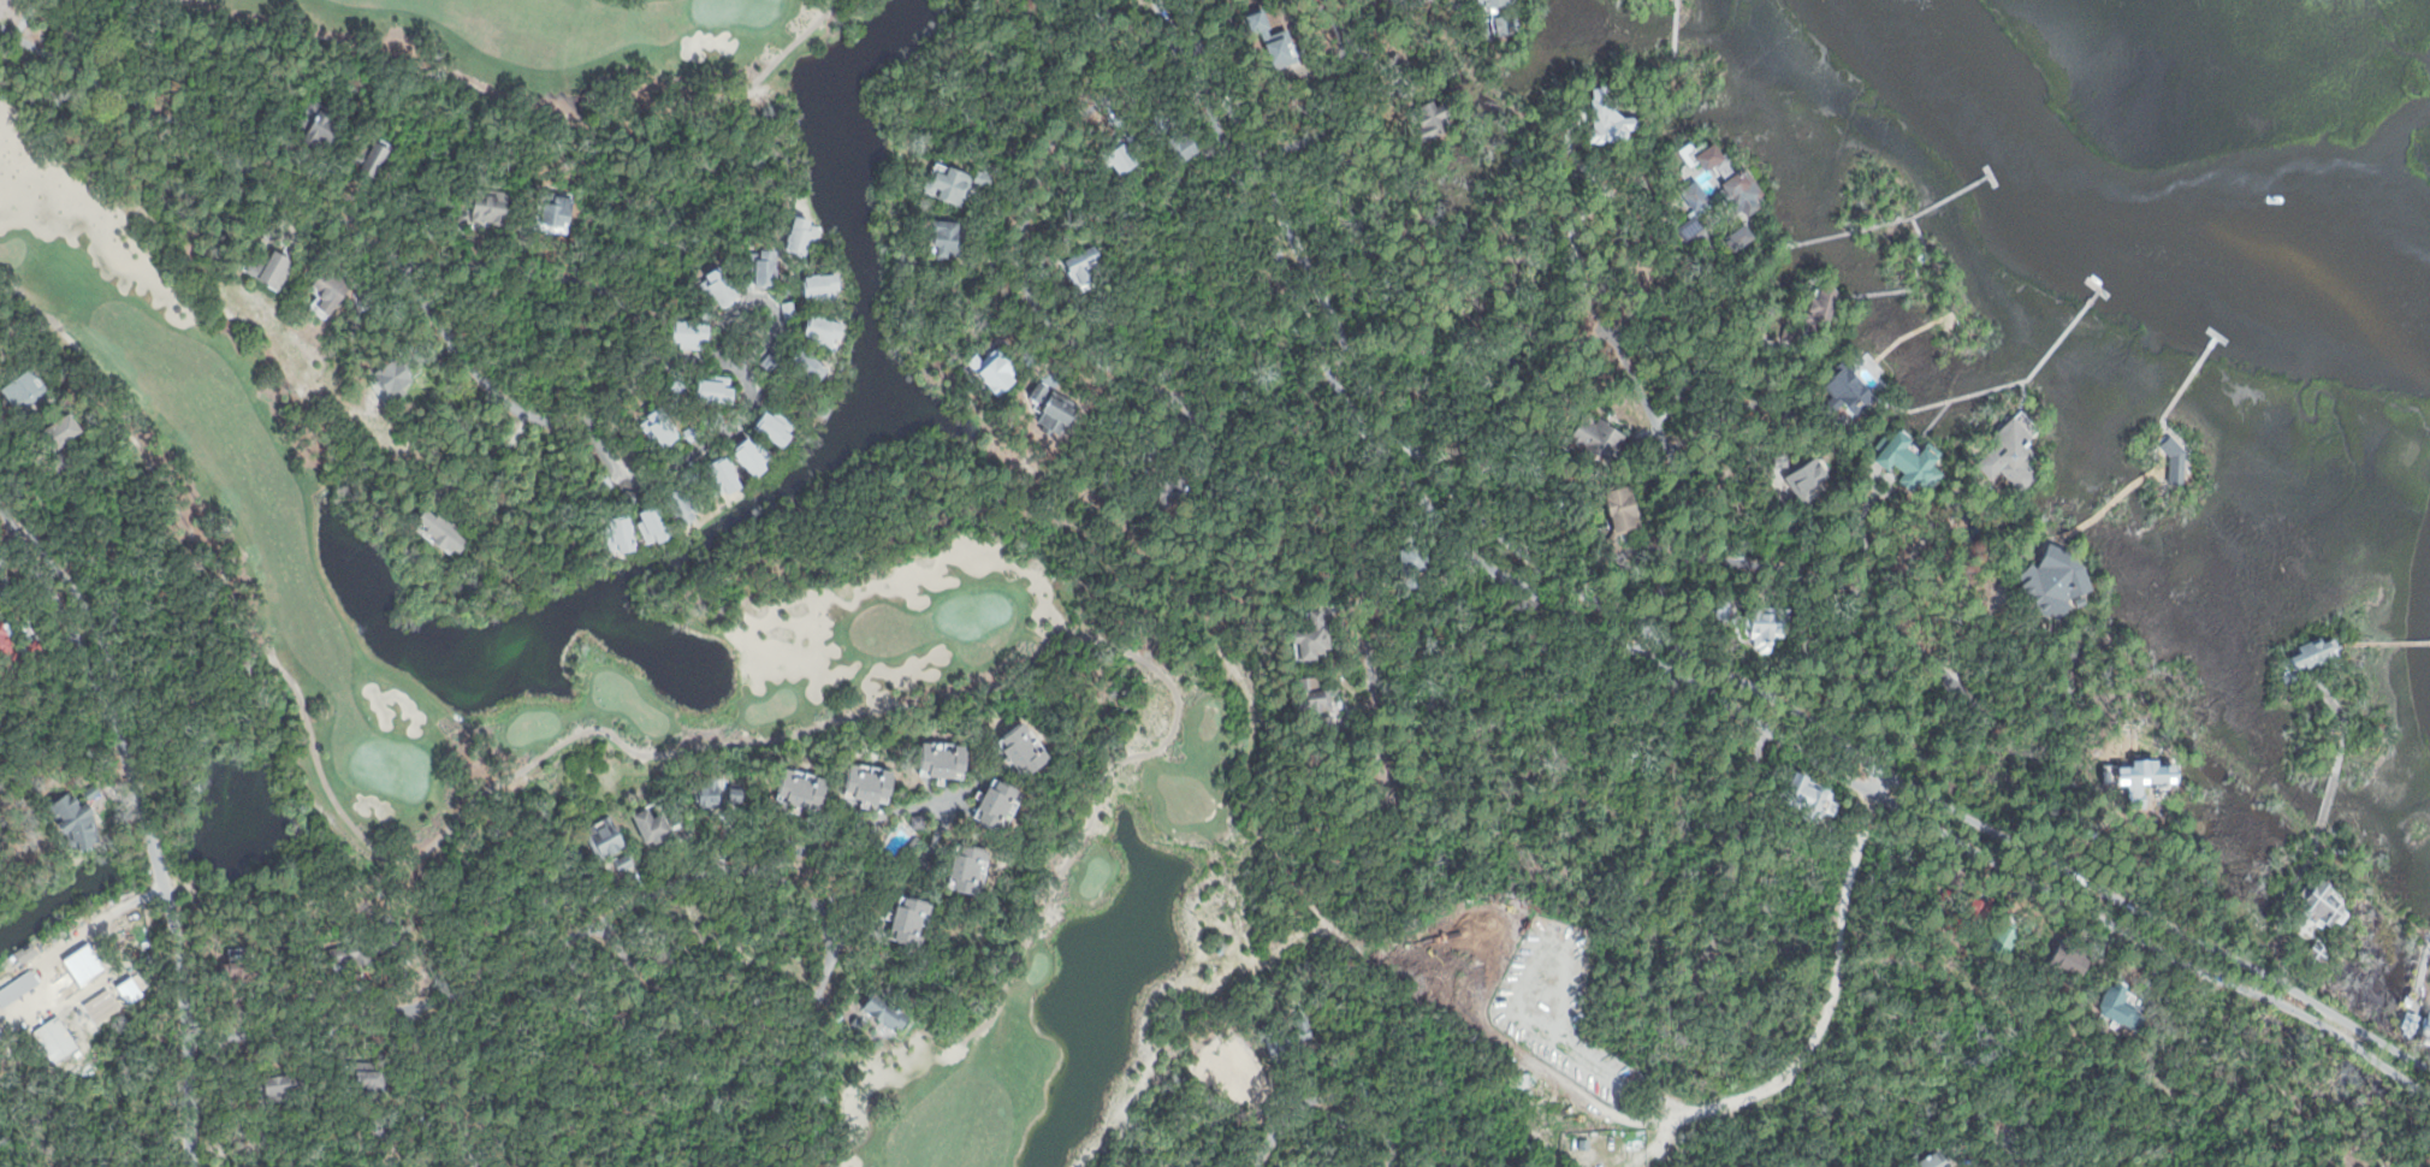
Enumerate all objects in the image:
building: (1492, 5)
building: (1516, 19)
building: (1274, 38)
road: (1339, 42)
road: (1359, 71)
building: (1606, 118)
building: (1433, 119)
building: (318, 125)
building: (1185, 142)
road: (205, 143)
building: (285, 144)
building: (368, 153)
building: (1127, 154)
building: (1712, 154)
building: (958, 182)
building: (1743, 189)
building: (1700, 192)
building: (488, 208)
building: (558, 209)
building: (1691, 225)
building: (527, 227)
road: (1021, 229)
building: (802, 233)
building: (949, 237)
building: (1741, 237)
building: (1084, 265)
building: (766, 267)
building: (273, 268)
building: (728, 285)
building: (822, 286)
building: (331, 290)
building: (364, 296)
road: (765, 297)
building: (1824, 303)
building: (789, 309)
building: (693, 331)
building: (824, 331)
building: (1790, 334)
building: (772, 357)
building: (806, 368)
building: (1000, 368)
building: (396, 375)
road: (622, 381)
building: (26, 386)
building: (1850, 387)
building: (1039, 389)
building: (716, 390)
building: (822, 408)
building: (1785, 414)
building: (1060, 416)
building: (775, 423)
building: (660, 427)
road: (724, 432)
building: (60, 434)
building: (1599, 437)
building: (2010, 452)
building: (755, 455)
building: (1782, 458)
building: (2176, 460)
road: (1681, 467)
building: (725, 478)
building: (1806, 480)
building: (607, 482)
building: (1173, 487)
building: (632, 494)
building: (684, 502)
building: (1623, 509)
building: (653, 520)
building: (444, 528)
building: (623, 533)
building: (1416, 556)
building: (2057, 581)
building: (4, 582)
road: (1849, 592)
road: (1367, 602)
building: (1723, 611)
building: (1768, 623)
building: (1310, 639)
building: (7, 644)
building: (34, 647)
building: (2316, 651)
road: (1687, 654)
road: (1666, 677)
building: (2290, 677)
building: (1312, 694)
road: (2342, 716)
building: (1024, 750)
building: (943, 759)
road: (1755, 777)
building: (867, 781)
building: (804, 788)
building: (710, 792)
building: (737, 794)
building: (1808, 795)
road: (2327, 801)
building: (1000, 804)
building: (76, 813)
road: (144, 813)
building: (650, 824)
building: (604, 836)
road: (861, 858)
building: (622, 861)
building: (968, 870)
road: (683, 882)
building: (1979, 902)
building: (2324, 904)
road: (2278, 913)
building: (912, 920)
building: (2005, 937)
building: (25, 950)
building: (357, 950)
building: (2321, 950)
building: (2076, 959)
building: (244, 964)
building: (17, 987)
building: (2122, 1005)
building: (887, 1009)
building: (857, 1024)
building: (2411, 1024)
building: (1, 1032)
building: (1286, 1032)
building: (0, 1036)
building: (2429, 1037)
building: (53, 1038)
road: (421, 1047)
building: (1521, 1078)
building: (371, 1080)
building: (272, 1091)
road: (1329, 1095)
road: (1650, 1120)
building: (387, 1127)
building: (1638, 1132)
building: (1586, 1142)
building: (1926, 1160)
building: (2381, 1166)
building: (2383, 1166)

